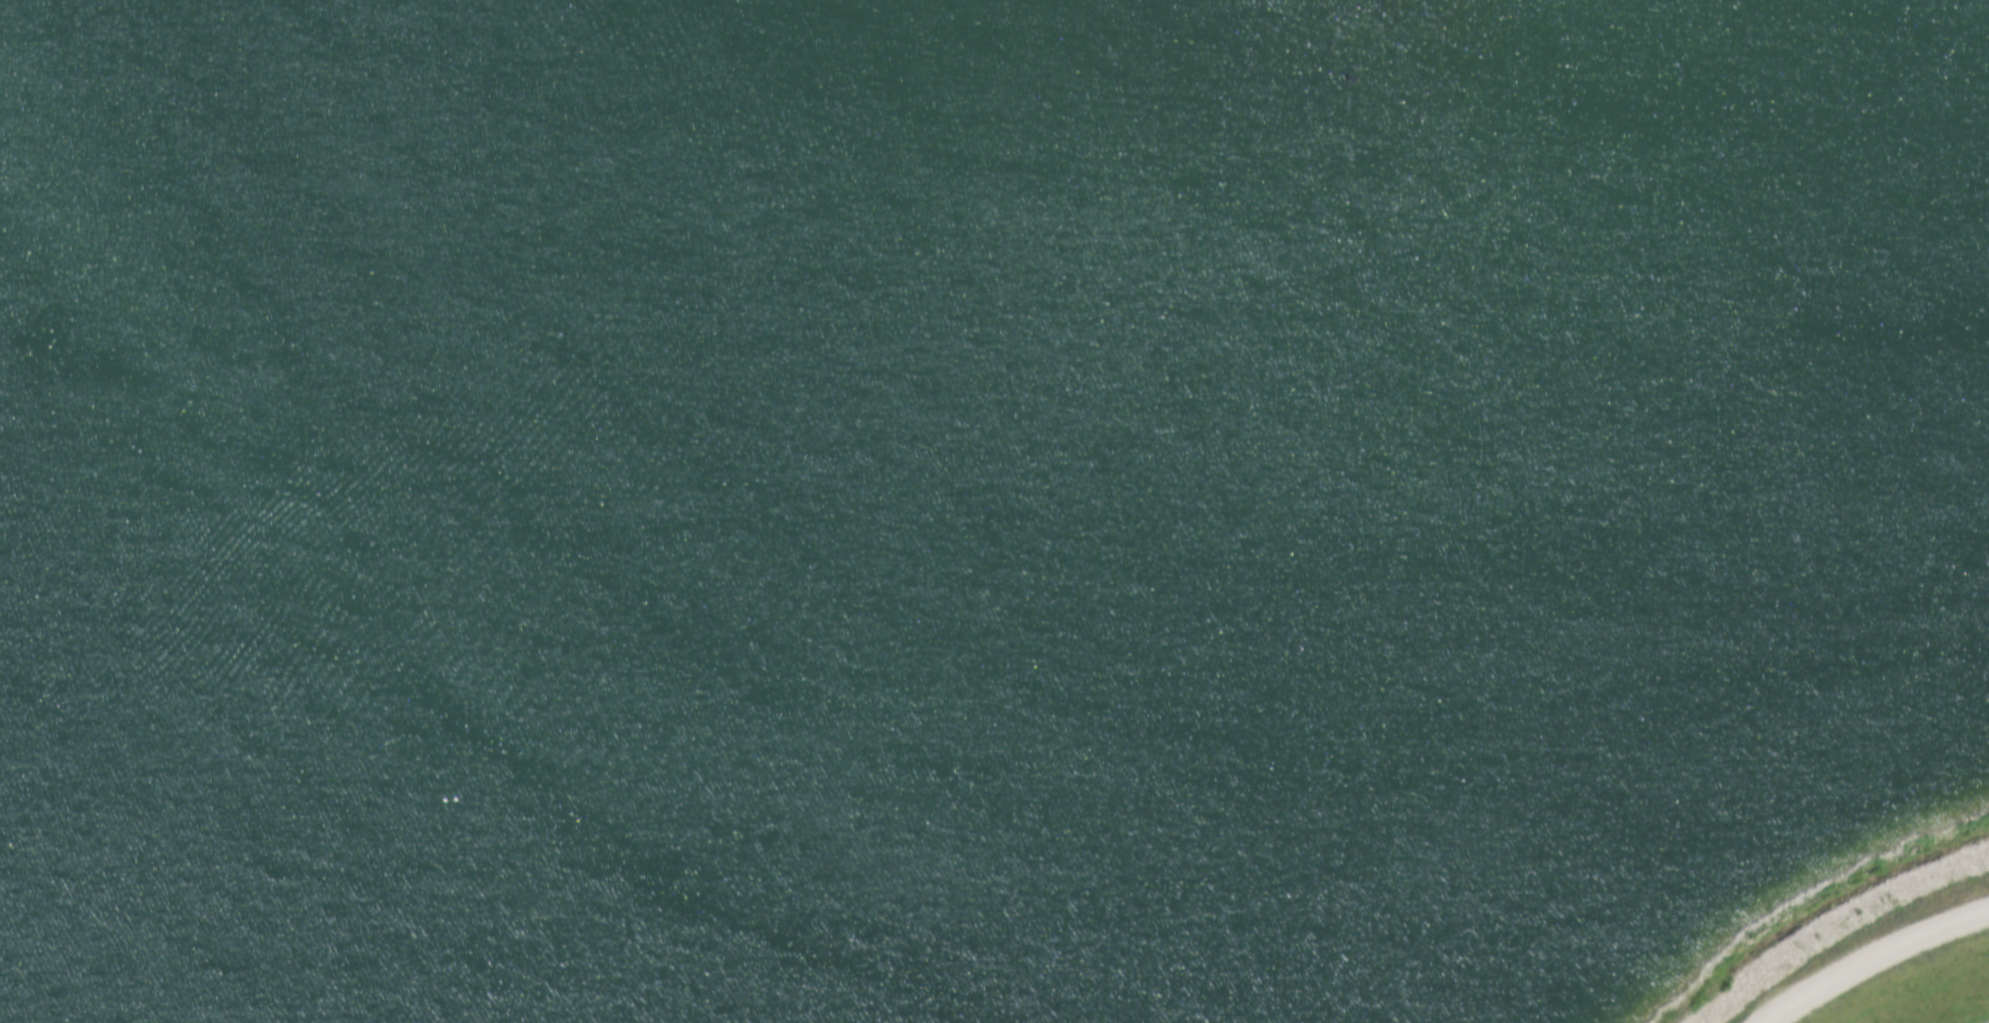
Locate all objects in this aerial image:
road: (1848, 932)

